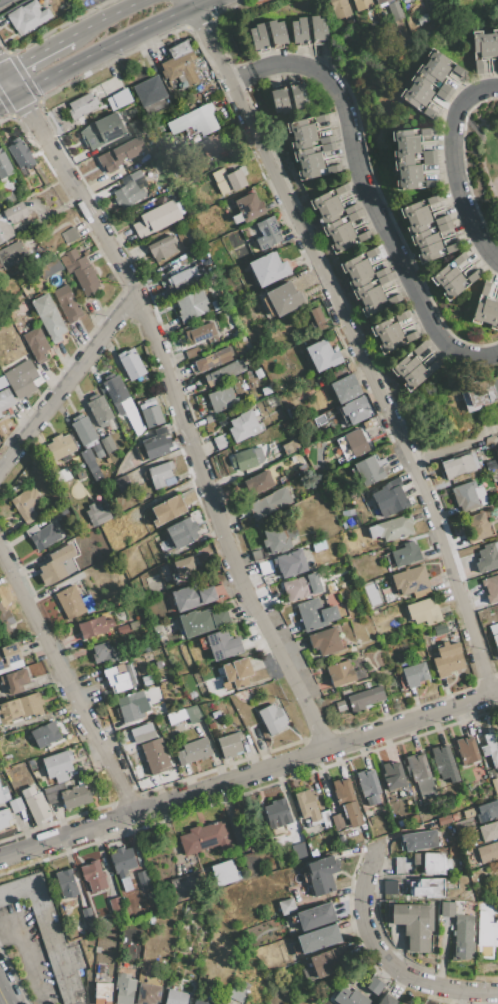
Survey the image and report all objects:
building: (380, 1)
road: (187, 3)
road: (197, 3)
building: (361, 4)
building: (339, 8)
building: (27, 16)
road: (105, 18)
building: (423, 18)
building: (318, 29)
building: (299, 31)
building: (276, 34)
building: (258, 37)
building: (492, 42)
building: (480, 44)
road: (104, 48)
road: (37, 53)
building: (437, 61)
building: (497, 63)
traffic signals: (19, 64)
building: (181, 64)
building: (478, 65)
building: (457, 70)
road: (3, 71)
building: (429, 73)
building: (420, 85)
building: (445, 89)
building: (148, 91)
building: (298, 95)
building: (441, 95)
road: (9, 96)
building: (412, 98)
building: (118, 99)
building: (279, 99)
building: (82, 105)
traffic signals: (30, 109)
building: (428, 113)
building: (320, 118)
building: (195, 120)
building: (135, 126)
building: (300, 127)
building: (162, 128)
building: (102, 131)
building: (425, 131)
building: (404, 137)
building: (325, 139)
building: (303, 140)
building: (211, 146)
building: (327, 147)
building: (405, 151)
building: (19, 153)
building: (120, 153)
building: (427, 153)
building: (307, 155)
building: (428, 160)
road: (453, 165)
building: (4, 166)
building: (407, 166)
building: (332, 169)
building: (310, 170)
building: (219, 175)
building: (235, 179)
building: (407, 181)
building: (430, 183)
building: (341, 189)
building: (129, 191)
road: (372, 196)
building: (432, 199)
building: (322, 202)
building: (249, 207)
building: (350, 209)
building: (413, 210)
building: (329, 214)
building: (353, 215)
building: (157, 218)
building: (10, 219)
building: (440, 220)
building: (418, 223)
building: (442, 227)
building: (335, 228)
building: (268, 232)
building: (69, 234)
building: (363, 236)
building: (234, 238)
building: (423, 238)
building: (342, 241)
building: (161, 248)
building: (450, 248)
building: (371, 252)
building: (428, 252)
building: (11, 253)
building: (458, 259)
building: (353, 265)
building: (49, 268)
building: (268, 268)
building: (80, 271)
building: (380, 273)
building: (443, 275)
building: (179, 276)
building: (471, 277)
building: (359, 278)
building: (383, 279)
building: (452, 287)
building: (484, 289)
building: (366, 292)
building: (283, 298)
building: (393, 299)
building: (67, 303)
building: (192, 305)
building: (372, 305)
building: (481, 311)
building: (401, 315)
building: (318, 316)
building: (493, 316)
building: (48, 317)
building: (383, 328)
building: (200, 333)
building: (411, 335)
building: (390, 341)
building: (36, 344)
road: (354, 344)
building: (418, 349)
building: (192, 352)
building: (322, 356)
building: (213, 359)
building: (131, 364)
building: (403, 366)
building: (433, 366)
building: (224, 372)
building: (413, 377)
building: (22, 379)
road: (67, 381)
building: (495, 385)
building: (345, 389)
building: (116, 391)
building: (480, 391)
building: (5, 395)
road: (175, 399)
building: (222, 399)
building: (152, 401)
building: (99, 410)
building: (130, 410)
building: (355, 410)
building: (0, 414)
building: (152, 416)
building: (212, 417)
building: (111, 424)
building: (244, 426)
building: (137, 427)
building: (268, 432)
building: (86, 433)
building: (221, 441)
building: (356, 443)
building: (107, 444)
building: (156, 444)
building: (60, 446)
building: (143, 456)
building: (88, 459)
building: (243, 459)
building: (459, 465)
building: (369, 471)
building: (63, 474)
building: (160, 474)
building: (285, 479)
building: (497, 480)
building: (168, 481)
building: (259, 483)
building: (122, 484)
building: (479, 491)
building: (465, 496)
building: (390, 498)
building: (270, 503)
building: (27, 504)
building: (167, 510)
building: (60, 511)
building: (96, 515)
building: (394, 527)
building: (477, 527)
building: (32, 531)
building: (371, 532)
building: (182, 533)
building: (45, 537)
building: (278, 537)
building: (318, 546)
building: (257, 554)
building: (405, 554)
building: (488, 557)
building: (290, 564)
building: (56, 565)
building: (265, 567)
building: (184, 568)
building: (410, 579)
building: (382, 583)
building: (302, 587)
building: (491, 588)
building: (421, 592)
building: (374, 594)
building: (192, 597)
building: (74, 603)
building: (423, 611)
building: (315, 614)
building: (5, 619)
building: (202, 621)
building: (134, 626)
building: (94, 627)
building: (440, 628)
building: (123, 629)
building: (494, 629)
building: (495, 640)
building: (325, 641)
building: (222, 645)
building: (103, 652)
building: (8, 655)
building: (118, 655)
building: (447, 659)
building: (237, 672)
building: (340, 673)
building: (358, 674)
building: (415, 674)
building: (120, 678)
road: (67, 680)
building: (146, 680)
building: (16, 681)
building: (366, 685)
building: (365, 698)
building: (131, 706)
building: (340, 706)
building: (20, 707)
building: (193, 713)
building: (177, 717)
building: (272, 718)
building: (211, 725)
building: (141, 732)
building: (45, 734)
building: (491, 742)
building: (229, 744)
building: (467, 750)
building: (193, 751)
building: (22, 754)
building: (155, 755)
building: (444, 764)
building: (58, 765)
building: (417, 767)
road: (249, 775)
building: (393, 775)
building: (494, 782)
building: (368, 786)
building: (426, 787)
building: (53, 793)
building: (75, 796)
building: (1, 797)
building: (6, 797)
building: (346, 801)
building: (16, 805)
building: (35, 805)
building: (307, 805)
building: (487, 811)
building: (469, 812)
building: (277, 815)
building: (4, 818)
building: (326, 819)
building: (337, 820)
building: (442, 820)
building: (308, 825)
building: (489, 831)
building: (203, 838)
building: (341, 839)
building: (419, 840)
building: (488, 852)
building: (300, 853)
building: (122, 861)
building: (431, 862)
building: (252, 864)
building: (403, 865)
building: (224, 873)
building: (321, 875)
building: (94, 876)
building: (66, 884)
building: (144, 885)
building: (185, 887)
building: (389, 887)
building: (428, 888)
building: (149, 894)
building: (115, 904)
building: (286, 907)
building: (447, 909)
building: (87, 914)
building: (316, 917)
building: (414, 924)
building: (486, 931)
building: (47, 934)
building: (463, 937)
building: (318, 938)
building: (99, 940)
building: (97, 949)
road: (25, 953)
road: (389, 958)
building: (327, 961)
building: (102, 967)
building: (374, 985)
building: (124, 989)
building: (240, 992)
building: (102, 993)
building: (147, 994)
road: (3, 996)
building: (348, 996)
building: (177, 997)
building: (386, 1000)
building: (201, 1001)

